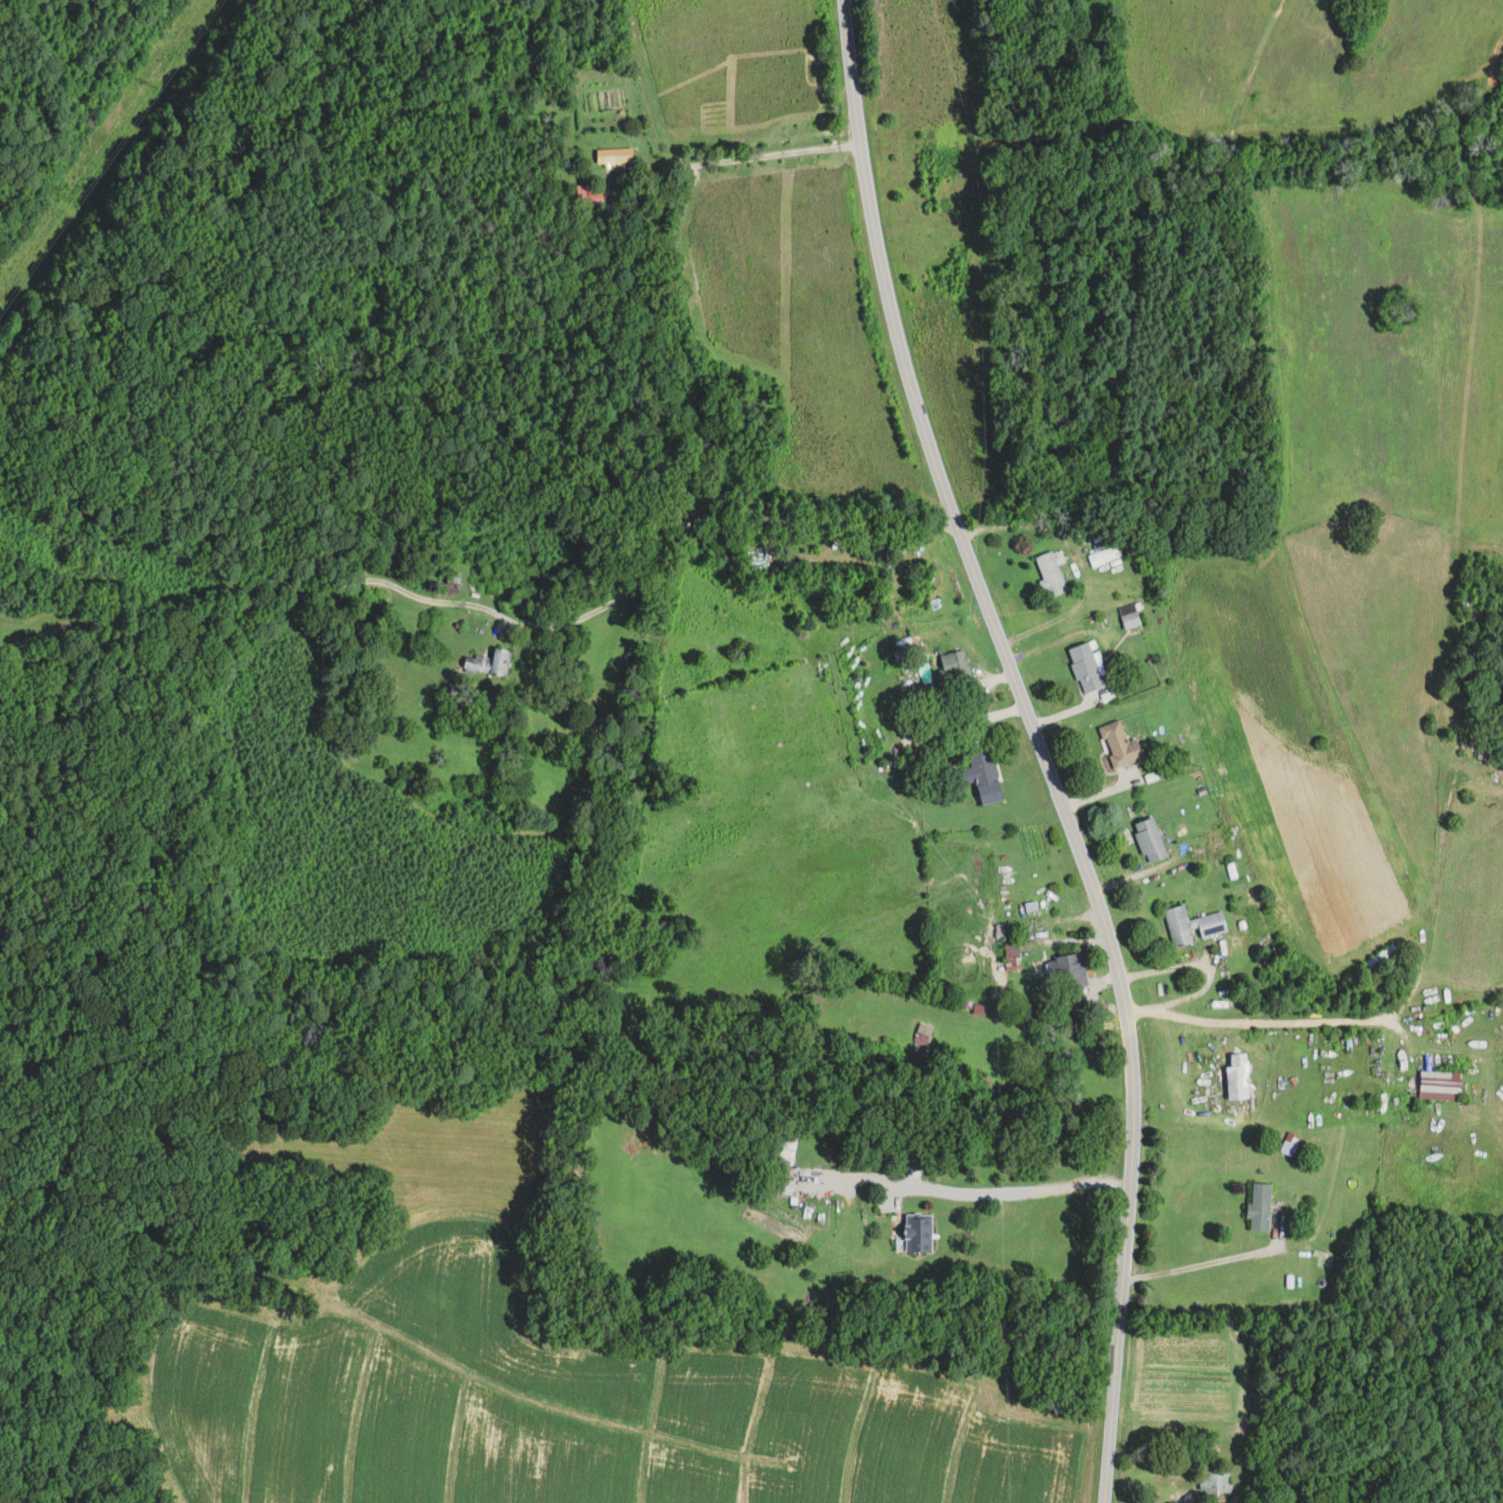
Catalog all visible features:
power tower: (154, 82)
building: (615, 156)
road: (757, 156)
building: (878, 547)
building: (388, 556)
building: (1104, 557)
building: (1050, 576)
road: (502, 616)
building: (1129, 617)
building: (489, 663)
building: (952, 669)
building: (1087, 669)
road: (1039, 745)
building: (1120, 746)
building: (984, 776)
building: (1220, 838)
building: (1150, 841)
building: (1193, 925)
building: (1236, 938)
building: (1010, 939)
building: (1380, 956)
building: (1072, 970)
road: (1394, 1011)
building: (923, 1036)
building: (1441, 1085)
building: (1290, 1144)
building: (782, 1186)
road: (973, 1188)
building: (1260, 1207)
building: (919, 1233)
road: (1214, 1262)
building: (1215, 1480)

